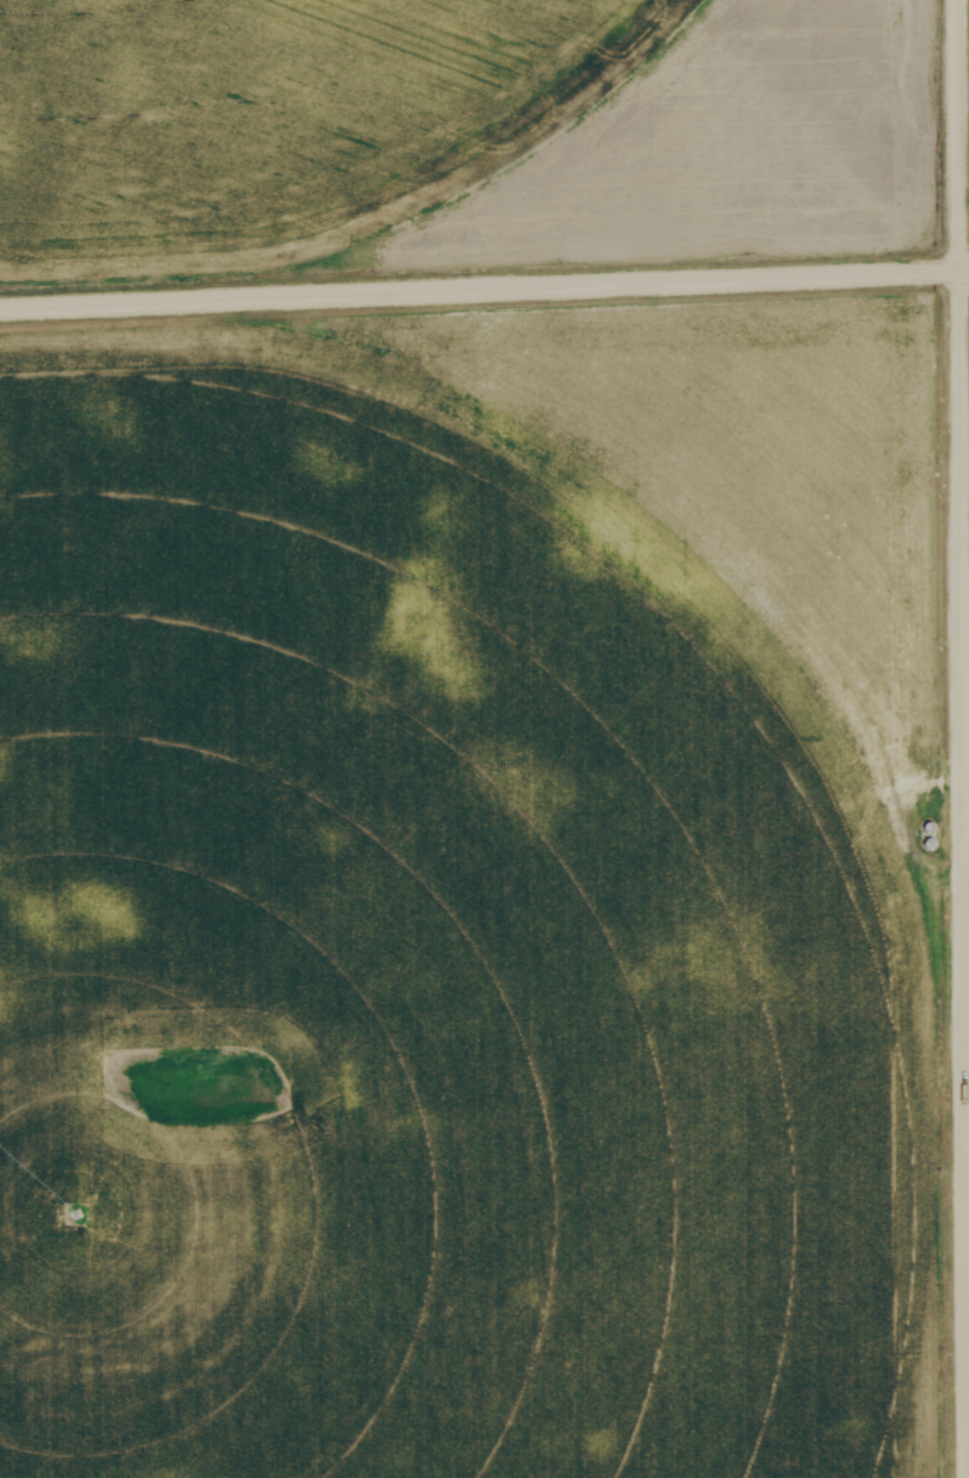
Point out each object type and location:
road: (484, 291)
road: (958, 739)

